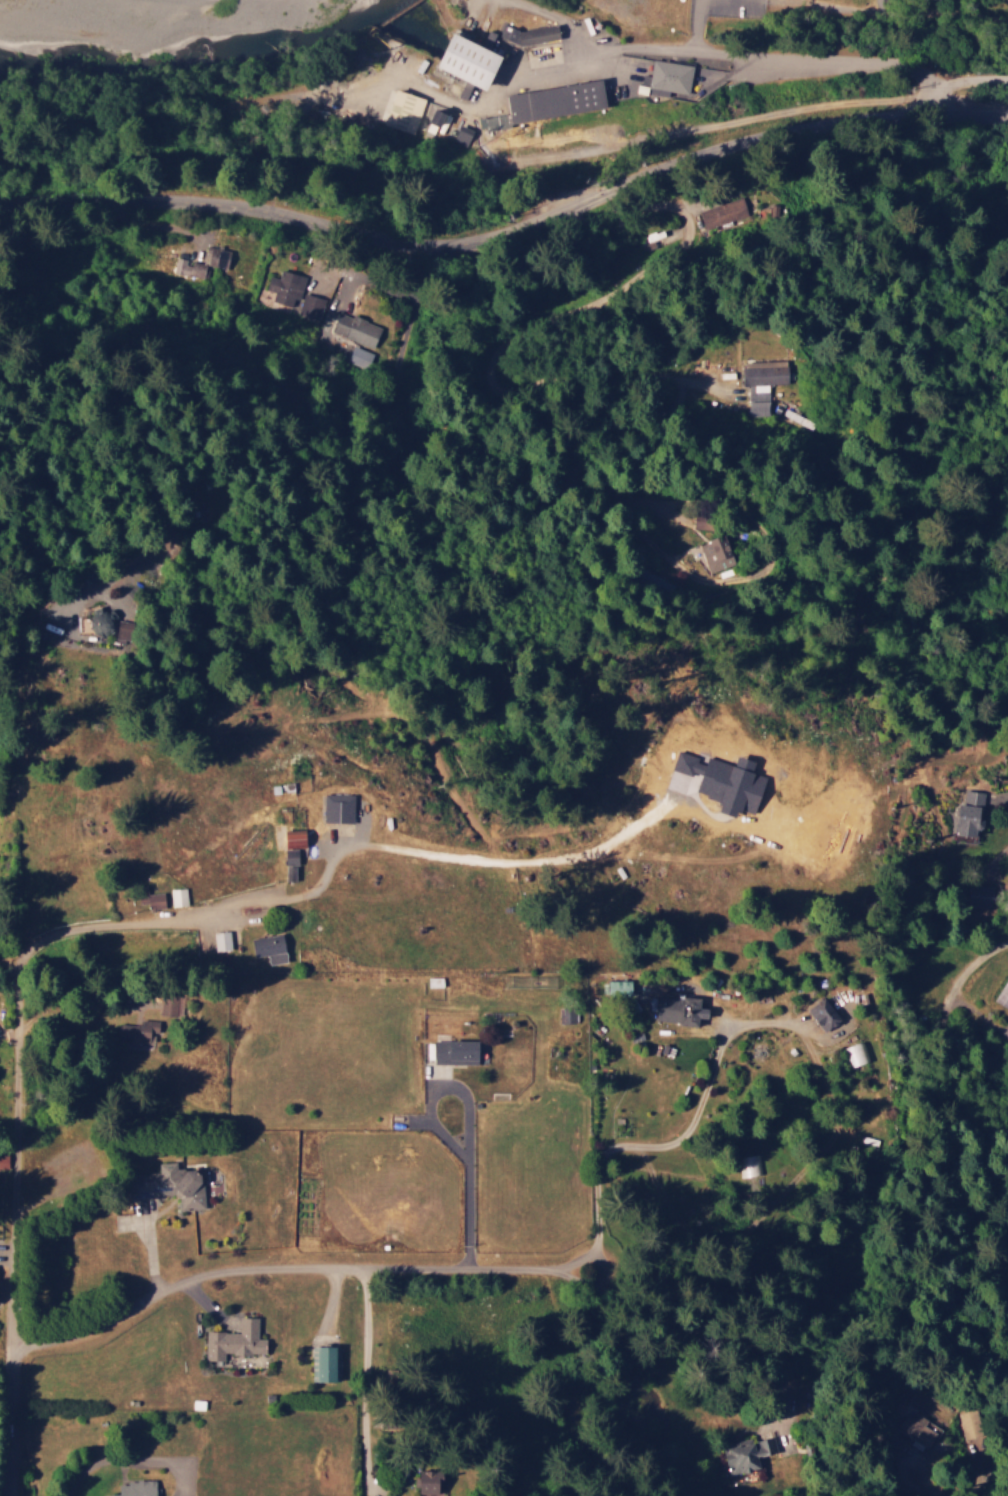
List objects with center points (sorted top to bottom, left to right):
building: (535, 35)
road: (845, 37)
river: (176, 56)
building: (467, 63)
building: (669, 78)
building: (555, 101)
building: (402, 109)
building: (436, 120)
building: (458, 131)
railway: (506, 163)
building: (723, 212)
road: (508, 240)
building: (216, 257)
building: (188, 268)
building: (285, 287)
building: (310, 308)
building: (352, 332)
building: (762, 383)
road: (561, 467)
road: (77, 552)
building: (717, 553)
road: (874, 582)
building: (102, 619)
building: (124, 629)
road: (36, 673)
building: (338, 807)
building: (970, 811)
building: (294, 838)
building: (290, 856)
building: (289, 872)
road: (995, 877)
road: (43, 887)
building: (178, 896)
building: (154, 900)
building: (221, 940)
building: (267, 945)
building: (1003, 993)
building: (168, 1003)
building: (679, 1008)
building: (823, 1013)
building: (567, 1015)
building: (143, 1033)
building: (455, 1051)
building: (855, 1053)
road: (13, 1127)
building: (869, 1143)
road: (947, 1158)
building: (3, 1159)
building: (750, 1165)
building: (171, 1187)
road: (947, 1255)
road: (287, 1266)
road: (502, 1289)
building: (235, 1340)
road: (503, 1348)
building: (323, 1363)
building: (918, 1428)
building: (746, 1456)
building: (428, 1481)
building: (135, 1488)

